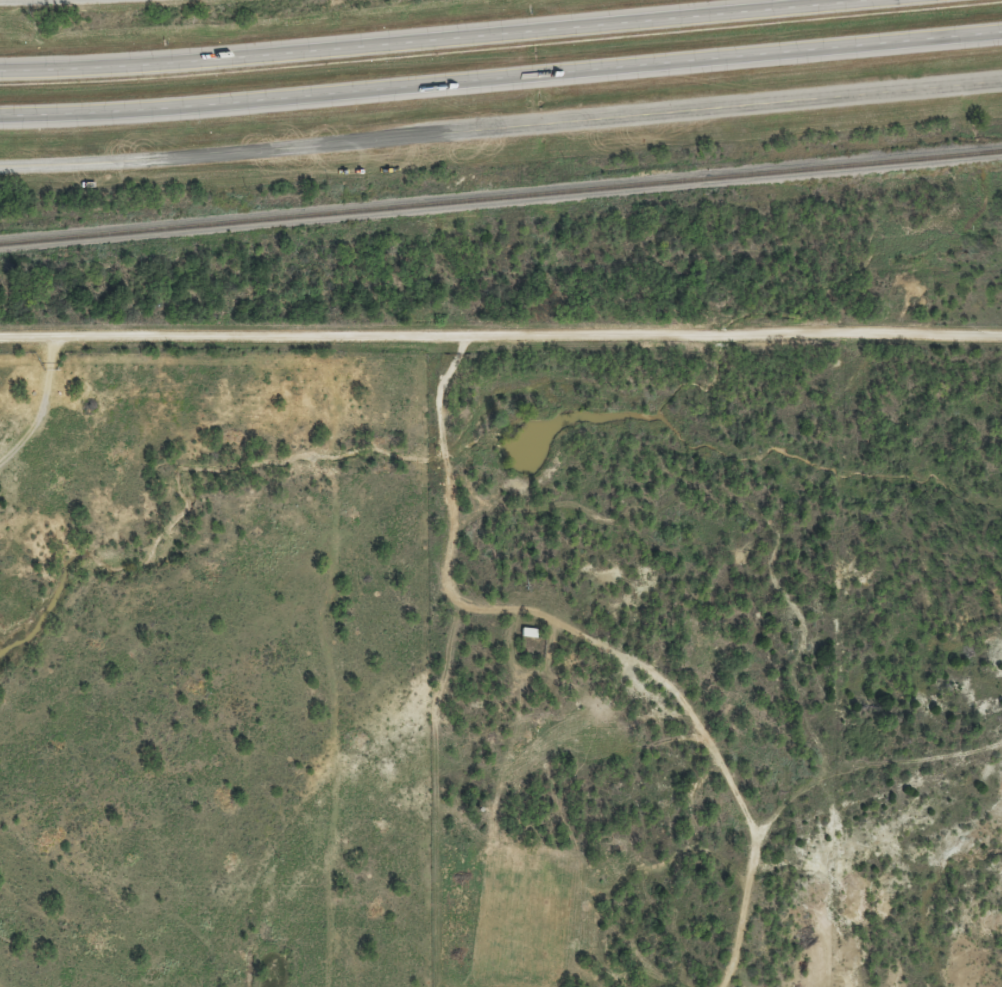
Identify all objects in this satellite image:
road: (3, 0)
road: (423, 38)
road: (501, 76)
road: (501, 127)
railway: (500, 192)
road: (501, 352)
building: (525, 640)

